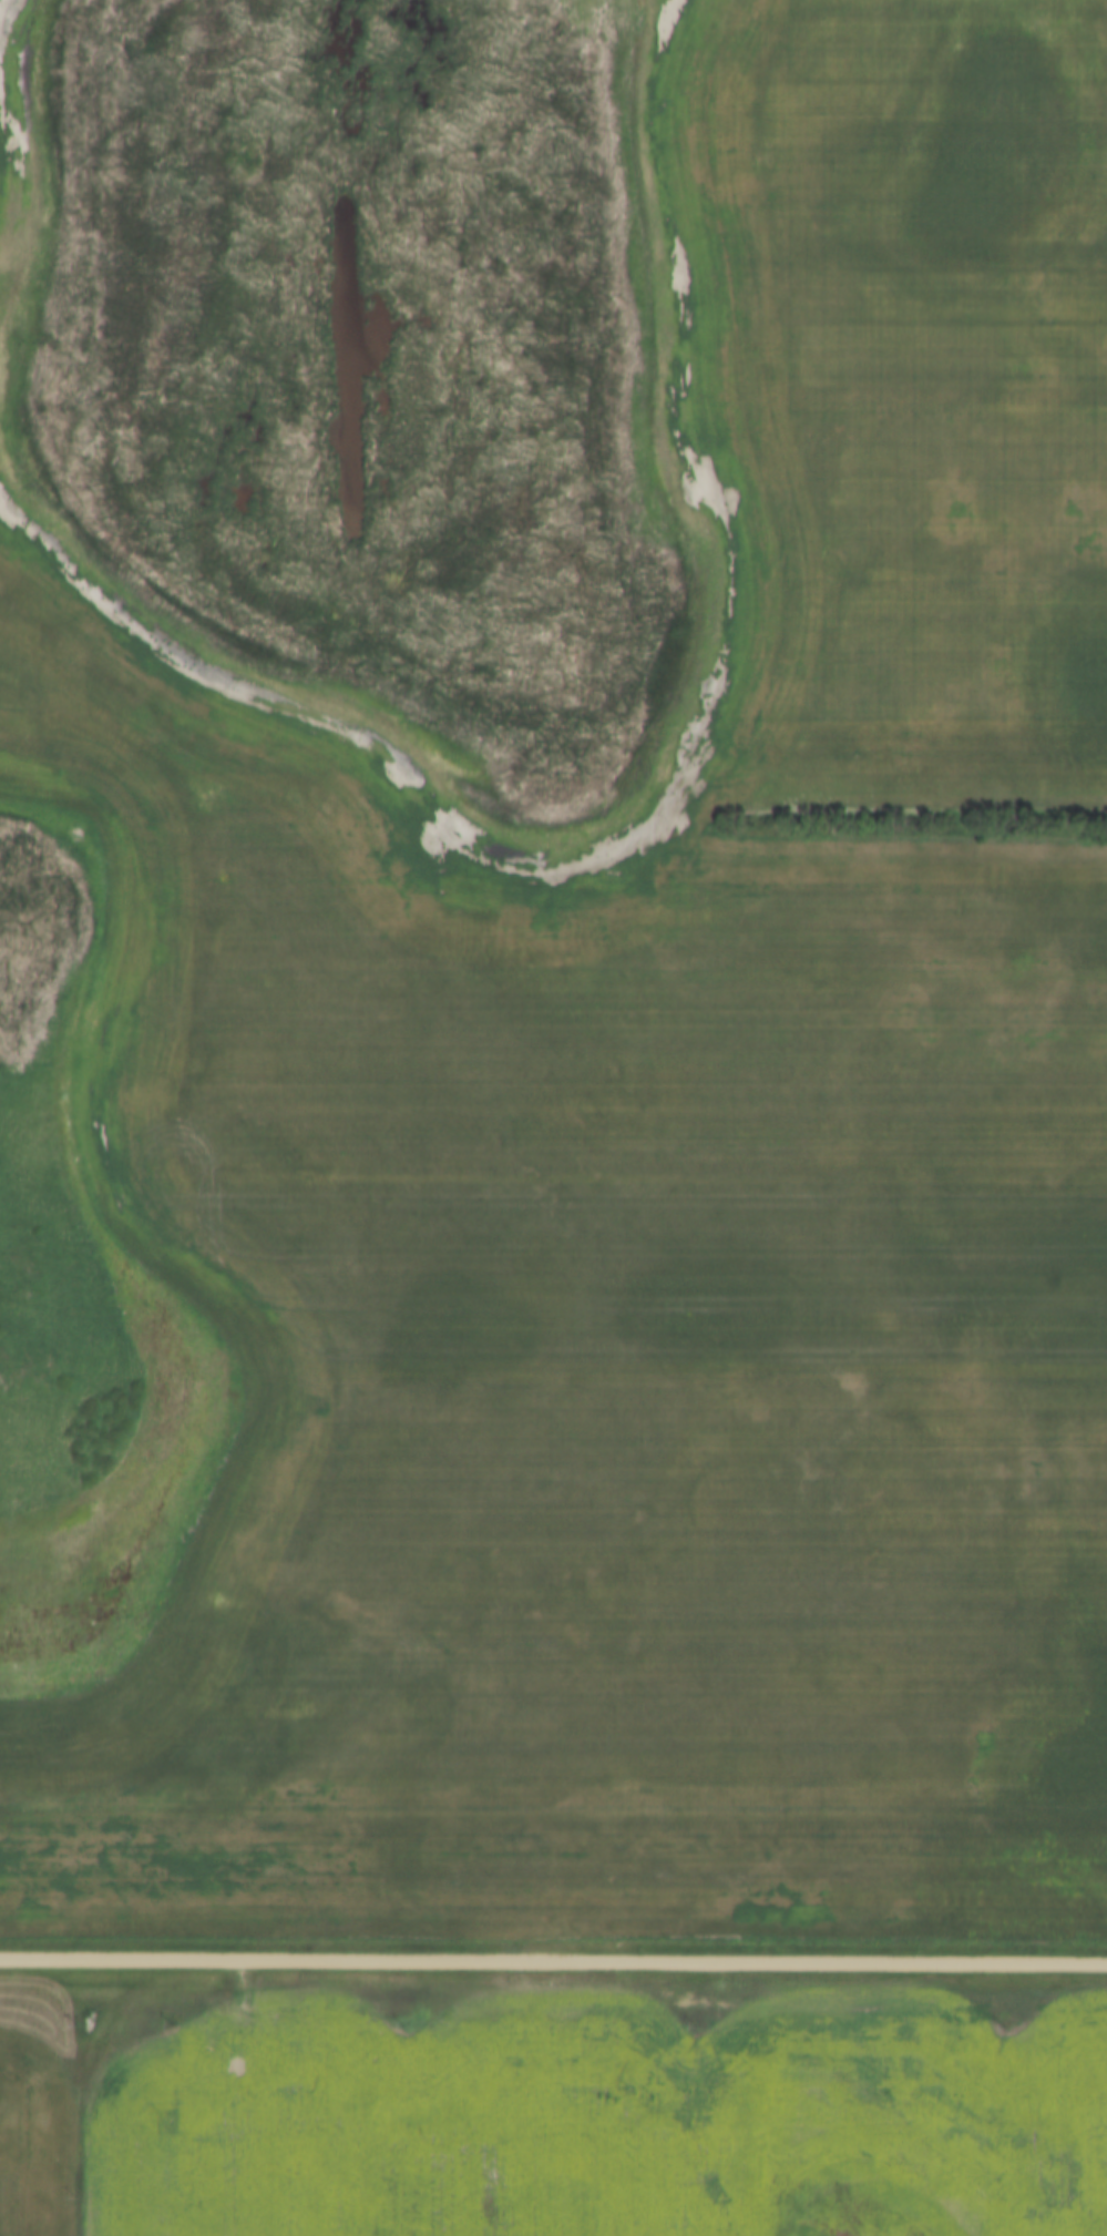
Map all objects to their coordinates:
road: (553, 1964)
road: (96, 2082)

